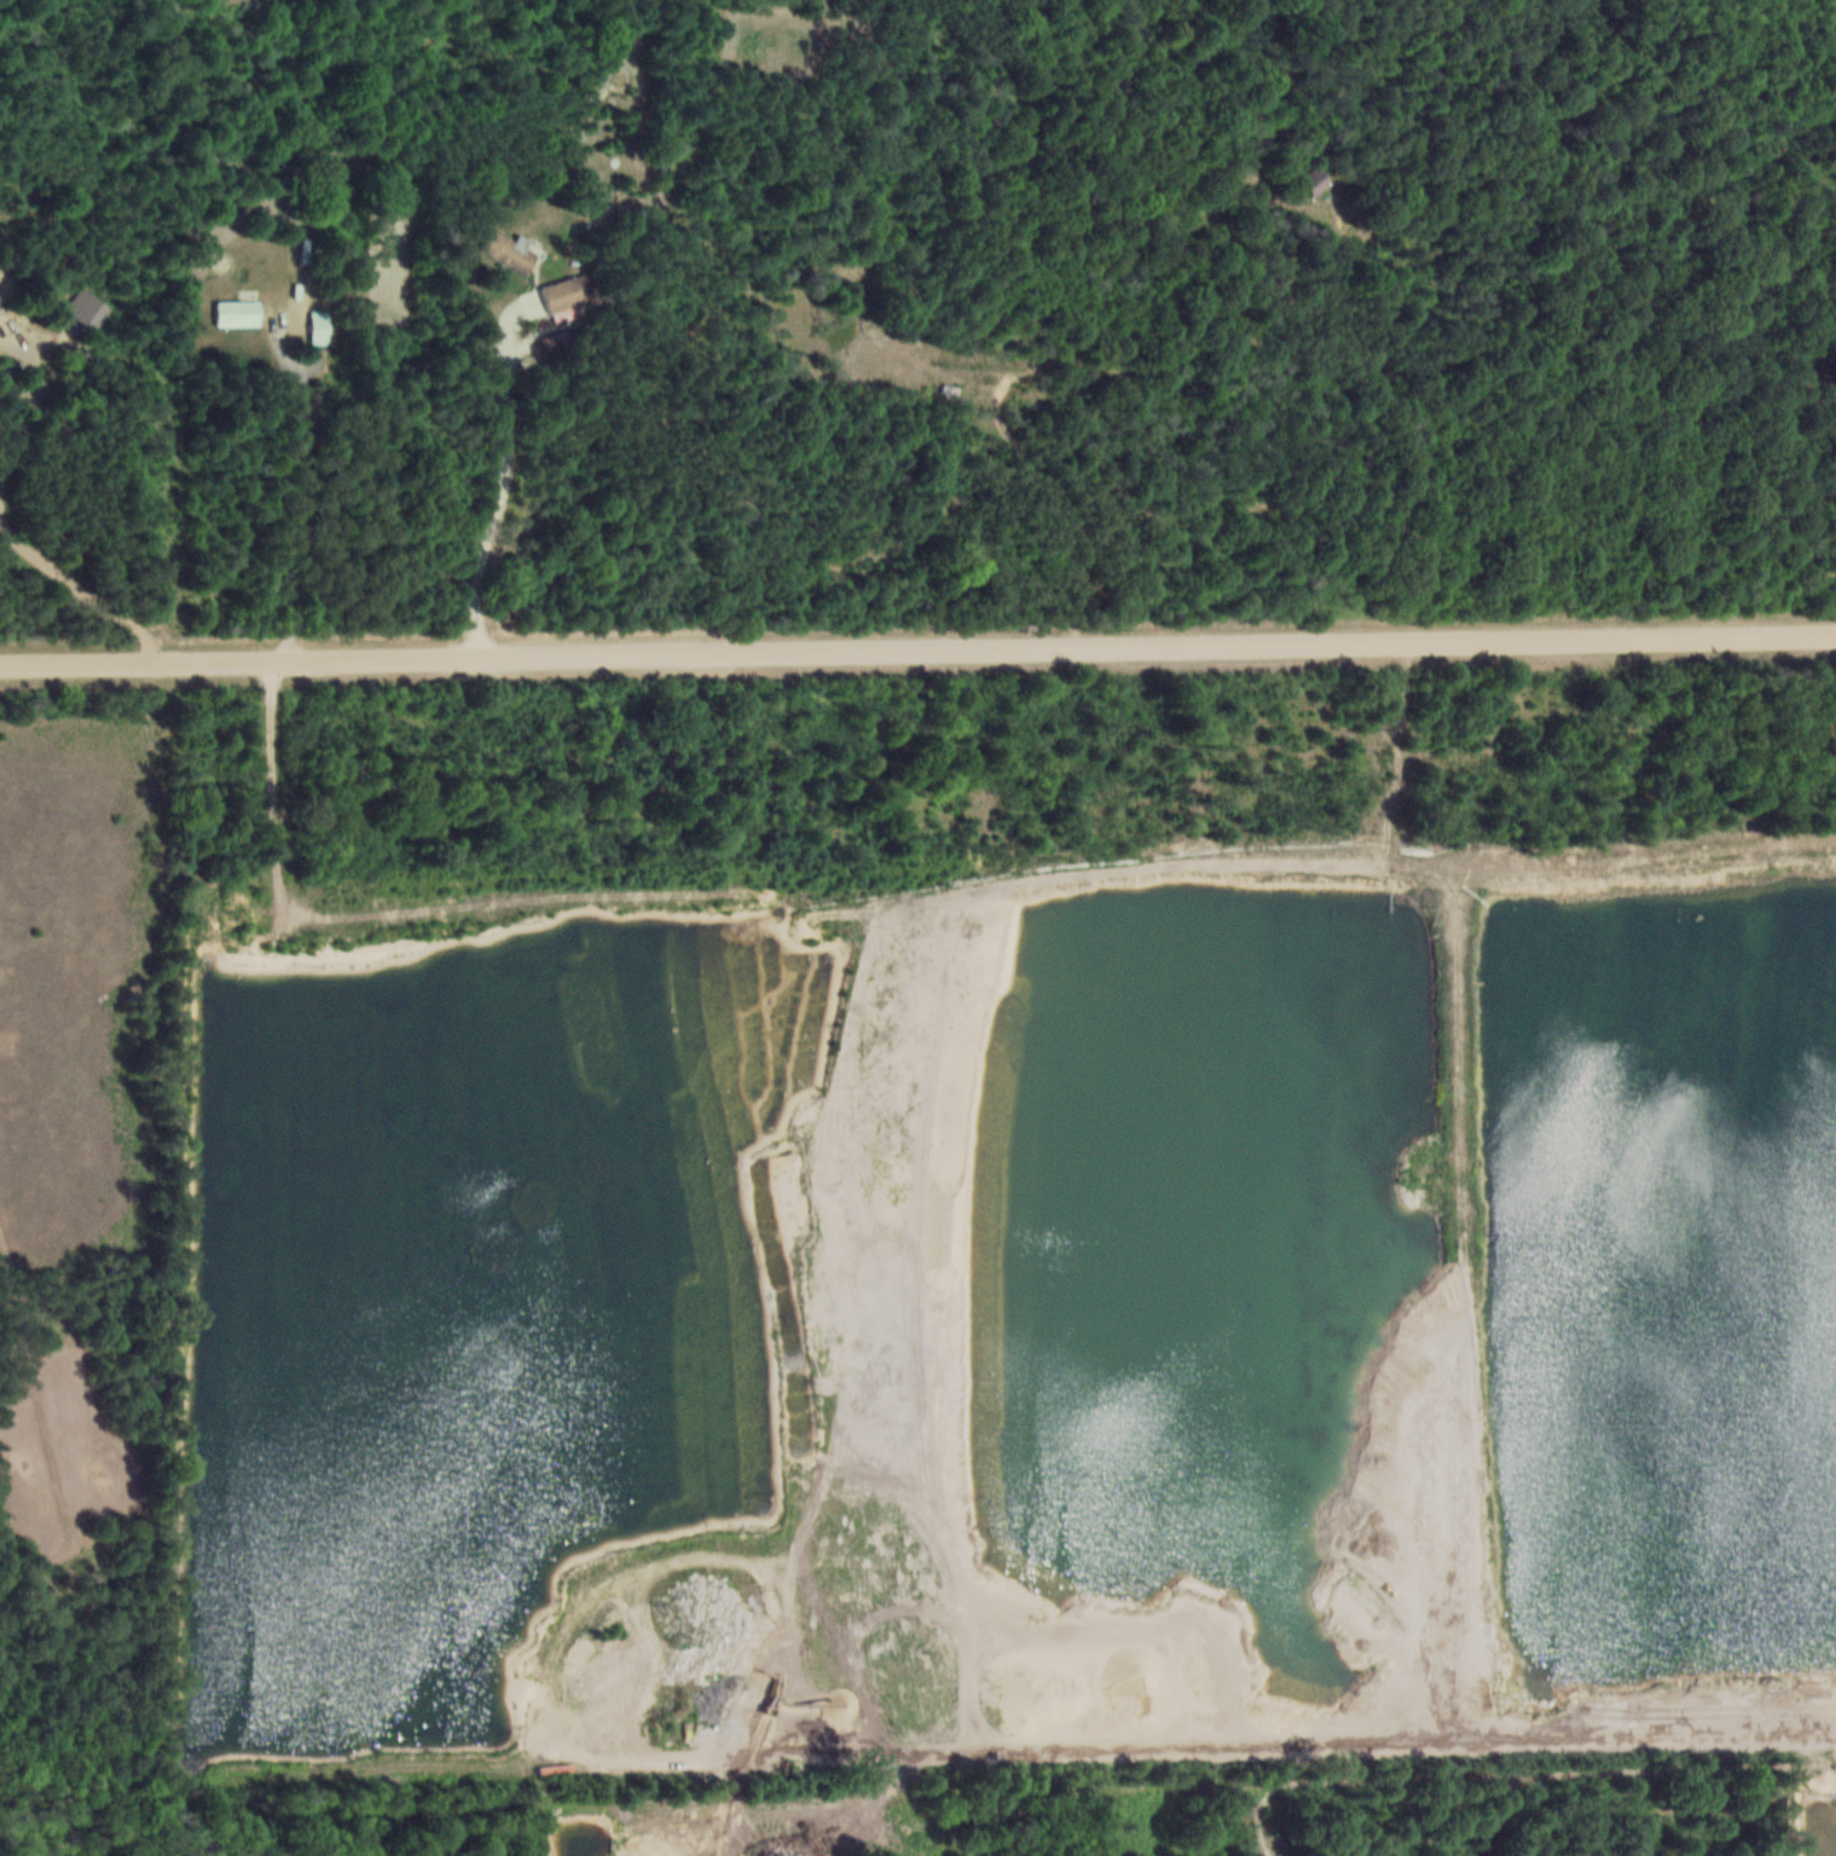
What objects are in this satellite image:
building: (1319, 181)
building: (514, 251)
building: (566, 300)
building: (239, 313)
road: (307, 495)
road: (502, 498)
road: (917, 648)
road: (1586, 1770)

